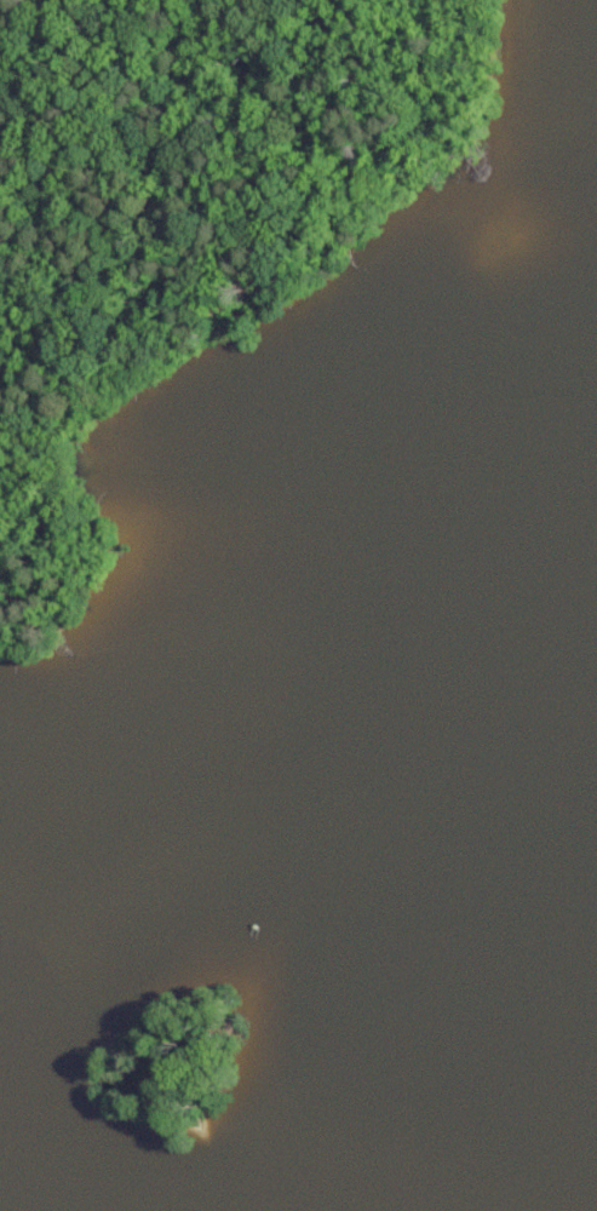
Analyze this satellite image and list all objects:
road: (65, 206)

